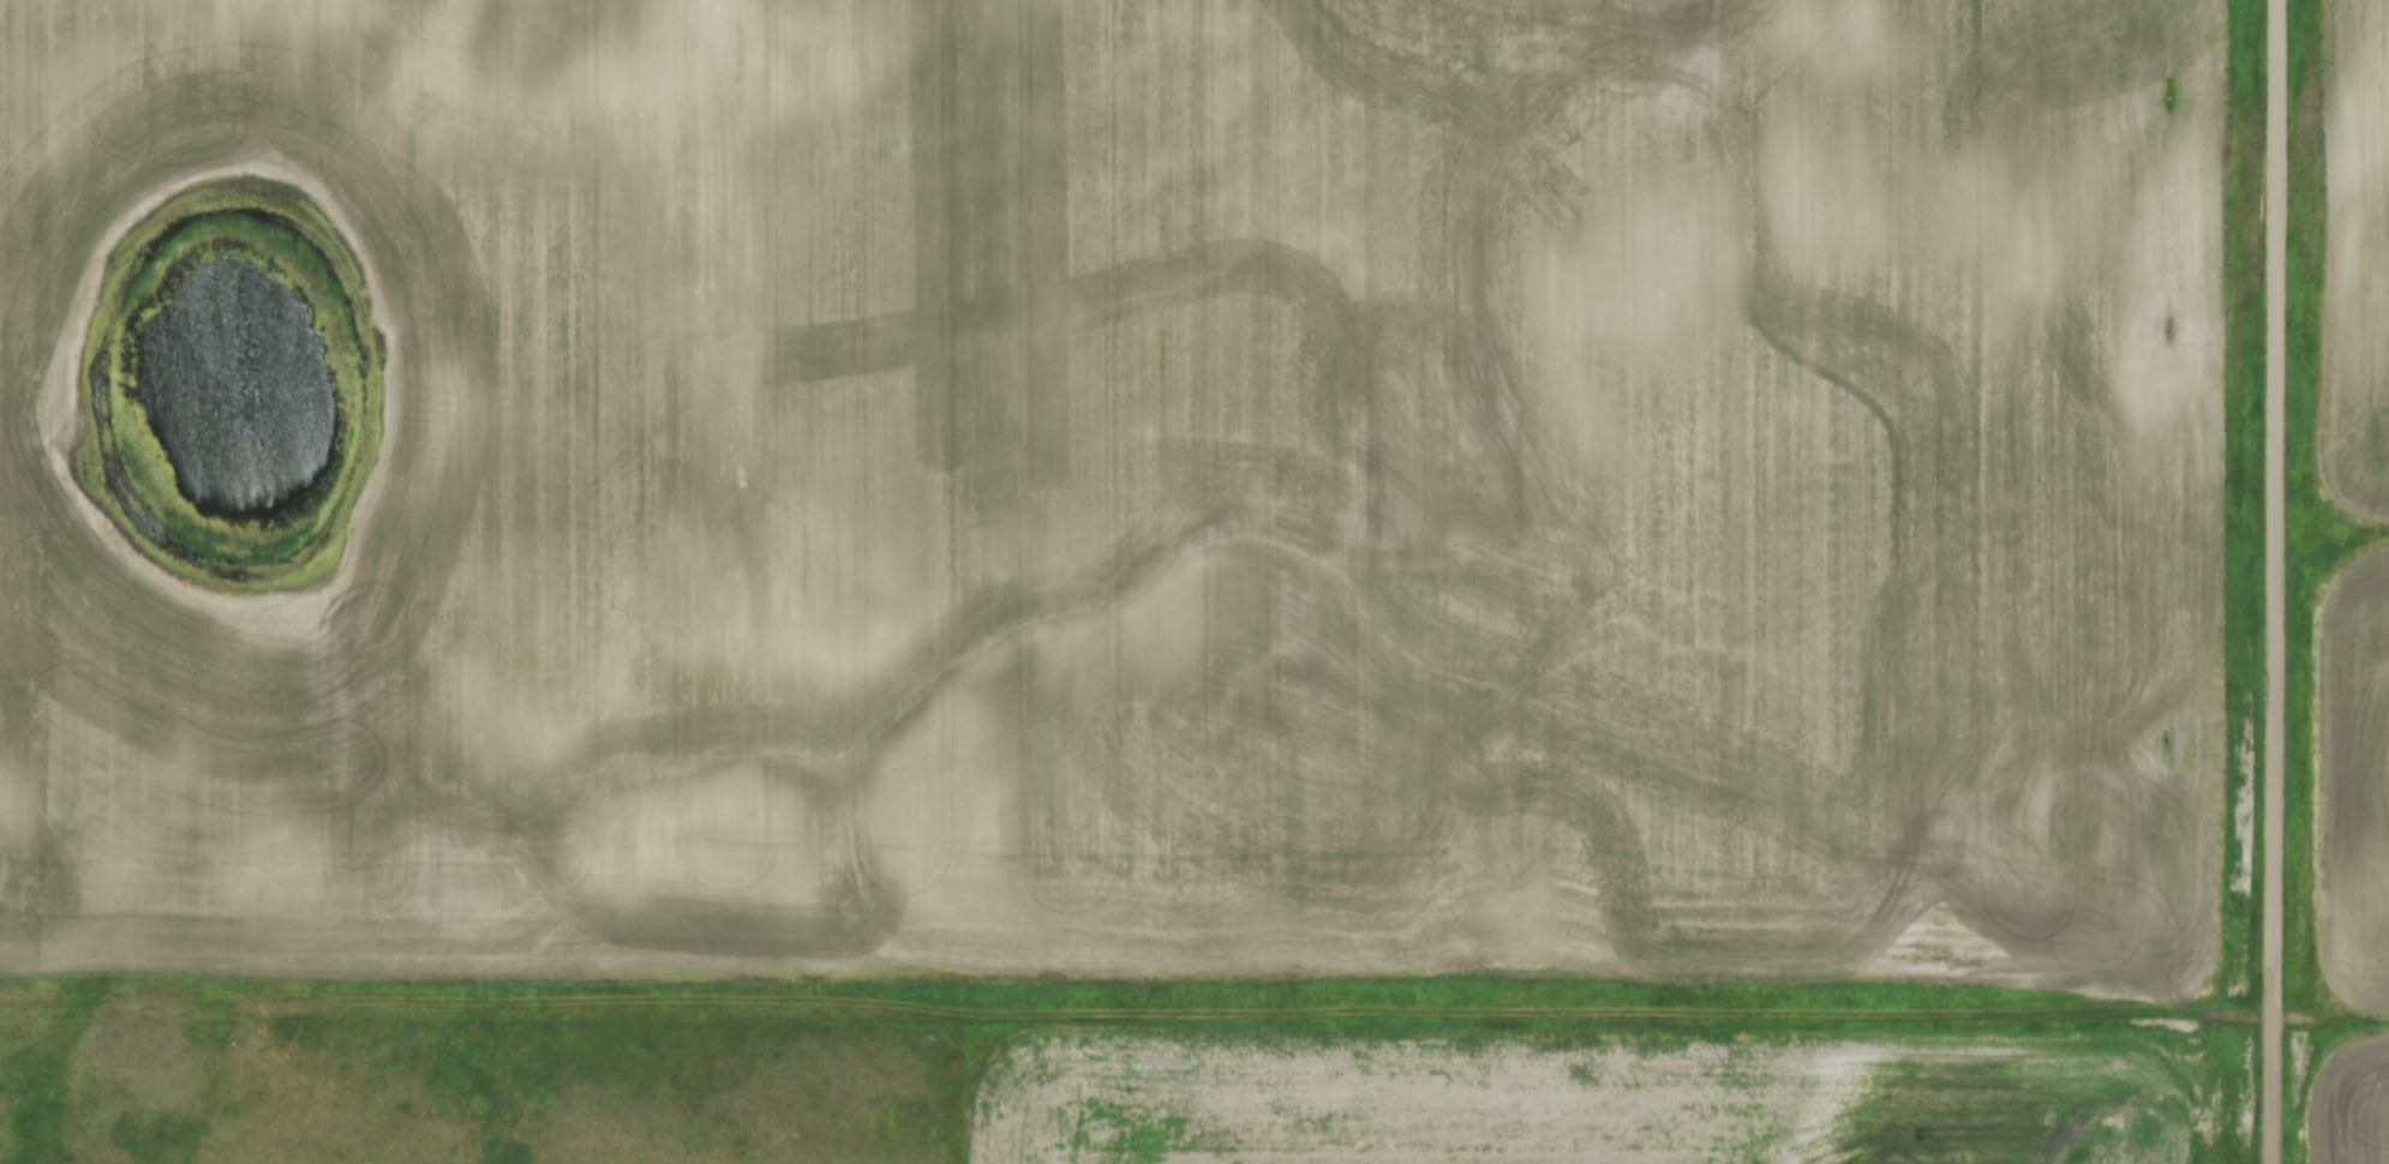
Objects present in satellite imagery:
road: (2279, 582)

